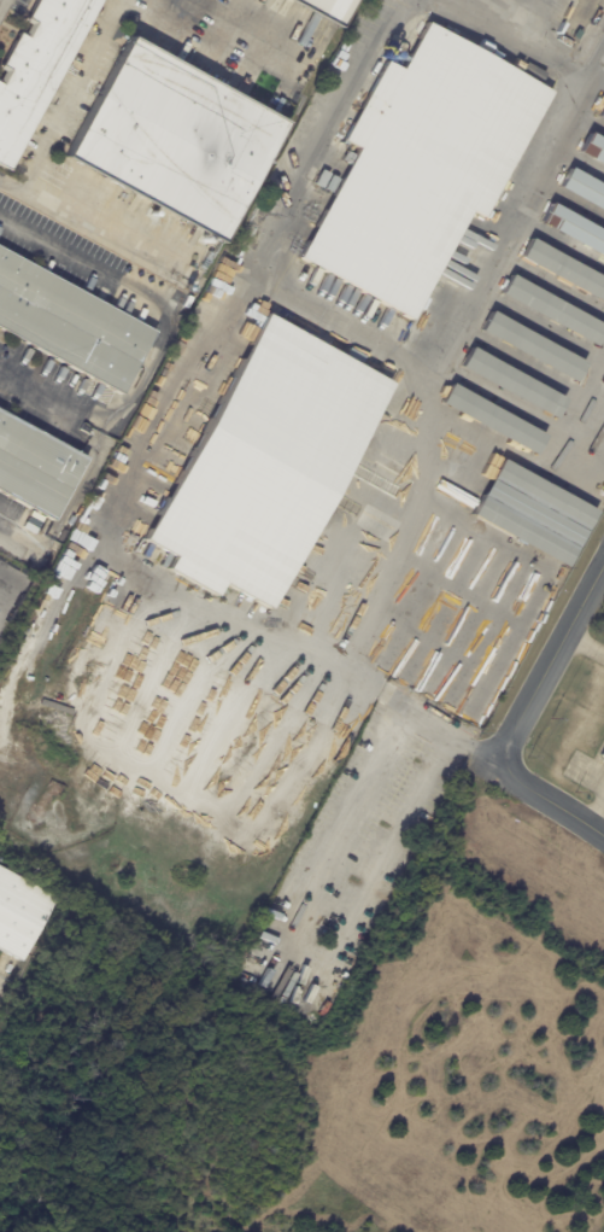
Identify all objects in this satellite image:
road: (1, 2)
building: (324, 7)
building: (511, 14)
road: (239, 30)
railway: (588, 31)
railway: (593, 46)
building: (39, 68)
road: (68, 101)
building: (602, 116)
building: (176, 138)
building: (57, 147)
building: (593, 151)
building: (603, 170)
building: (421, 171)
building: (332, 186)
building: (585, 189)
building: (603, 217)
road: (99, 218)
building: (575, 229)
road: (500, 244)
road: (53, 246)
building: (603, 259)
building: (564, 270)
building: (553, 311)
building: (70, 323)
building: (533, 348)
building: (512, 384)
road: (140, 389)
road: (423, 402)
building: (493, 421)
road: (423, 446)
road: (147, 466)
building: (39, 467)
building: (266, 468)
building: (536, 513)
road: (10, 547)
road: (585, 646)
road: (550, 661)
building: (395, 676)
building: (603, 757)
road: (550, 799)
road: (594, 810)
building: (19, 913)
road: (305, 950)

